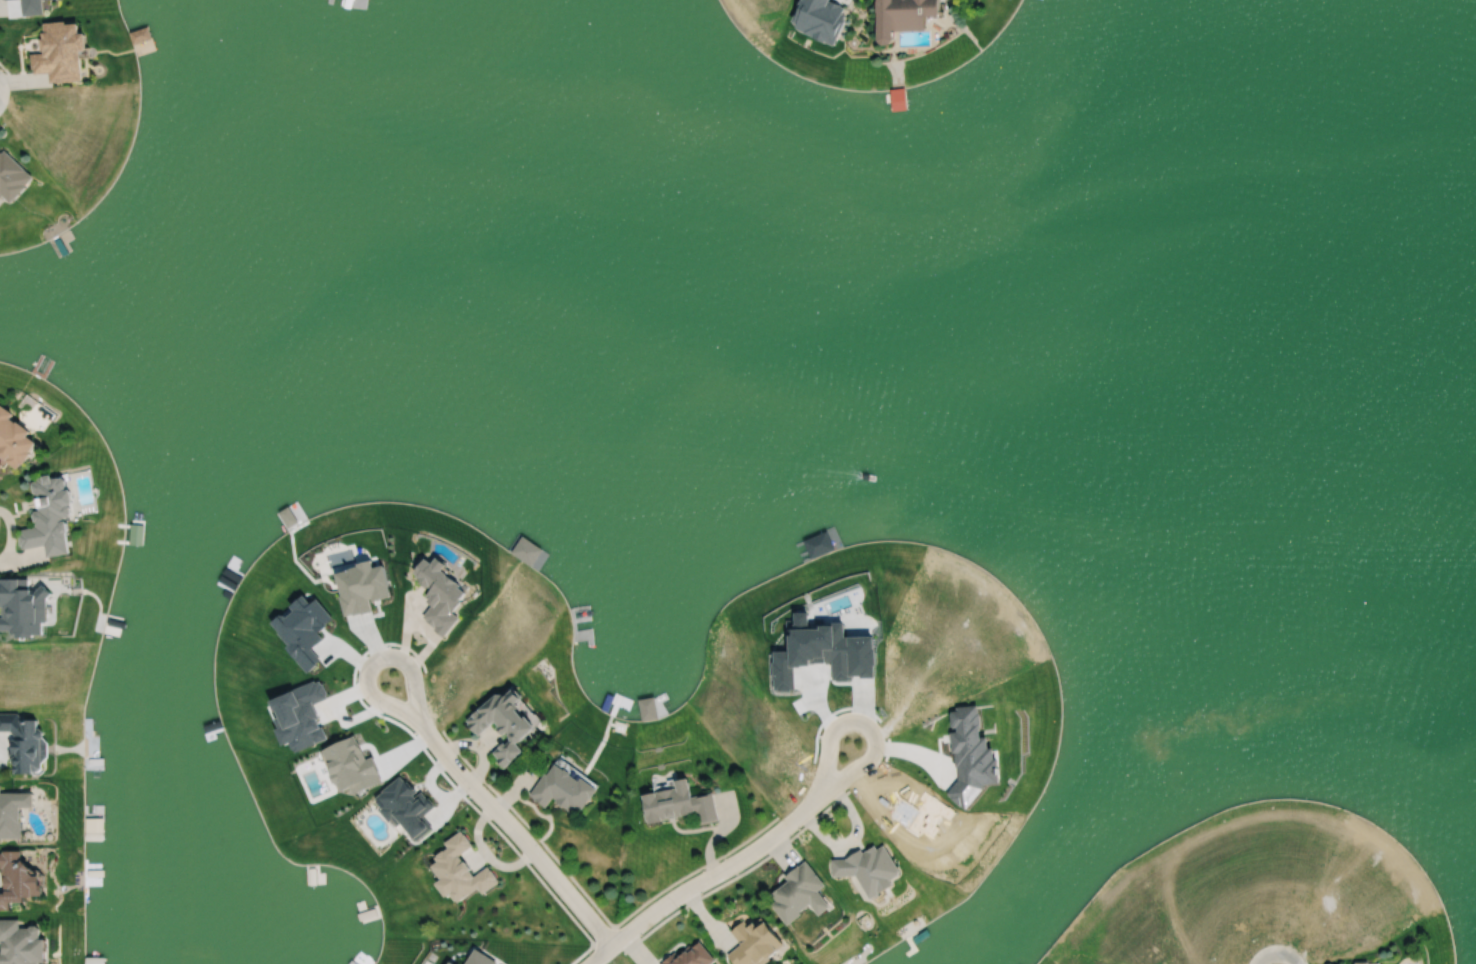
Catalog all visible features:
building: (897, 16)
building: (64, 53)
building: (14, 178)
building: (11, 441)
building: (44, 515)
building: (500, 723)
building: (20, 744)
building: (559, 789)
building: (676, 804)
road: (494, 810)
building: (10, 812)
road: (745, 850)
building: (864, 868)
building: (14, 879)
building: (794, 894)
building: (18, 944)
building: (749, 944)
road: (600, 952)
building: (688, 956)
building: (1356, 963)

